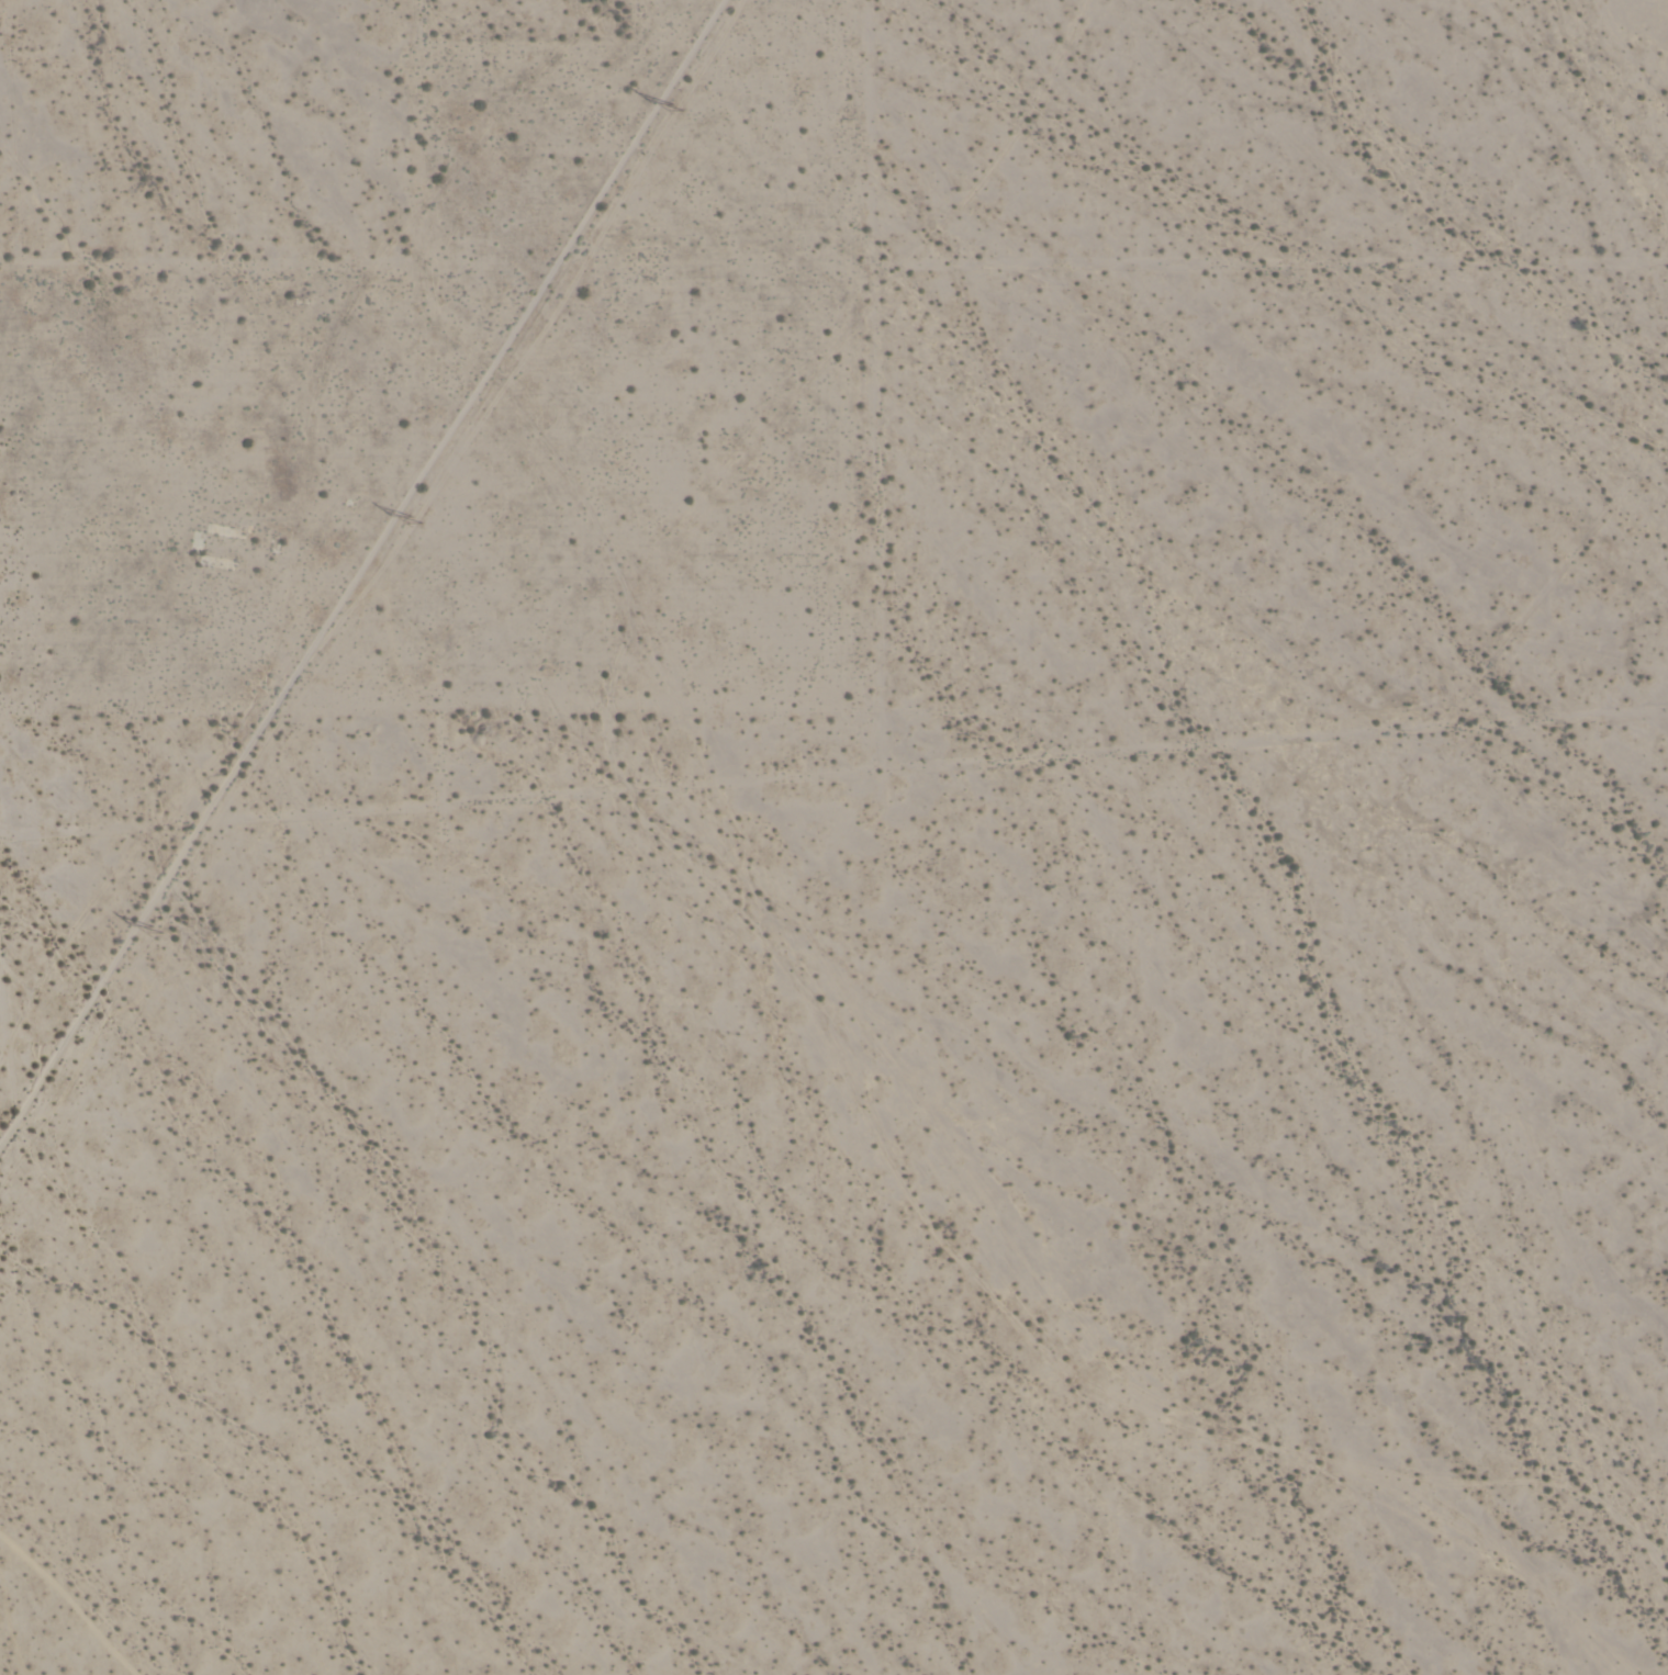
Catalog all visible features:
power tower: (680, 110)
road: (432, 247)
road: (590, 255)
road: (854, 370)
road: (444, 396)
power tower: (423, 526)
road: (678, 765)
power tower: (163, 929)

